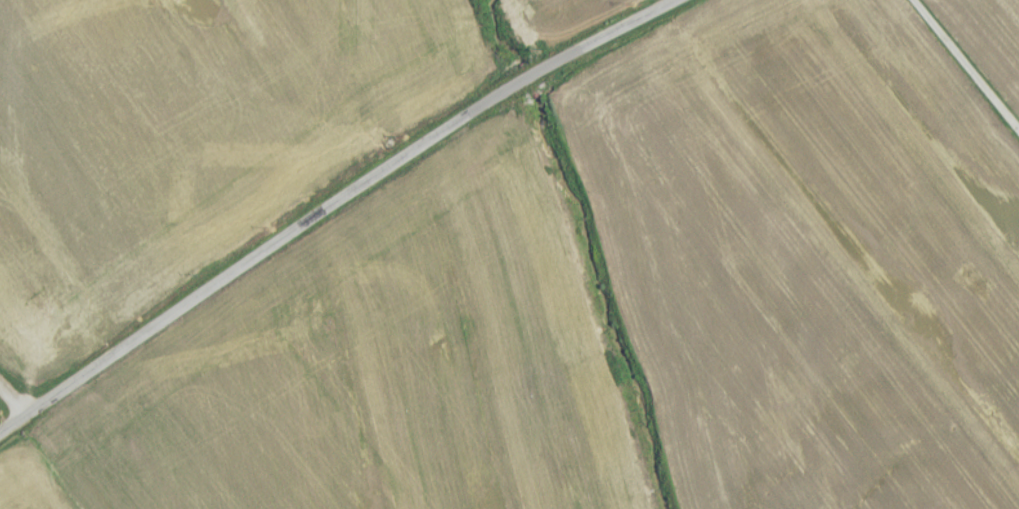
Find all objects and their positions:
road: (963, 69)
road: (338, 205)

